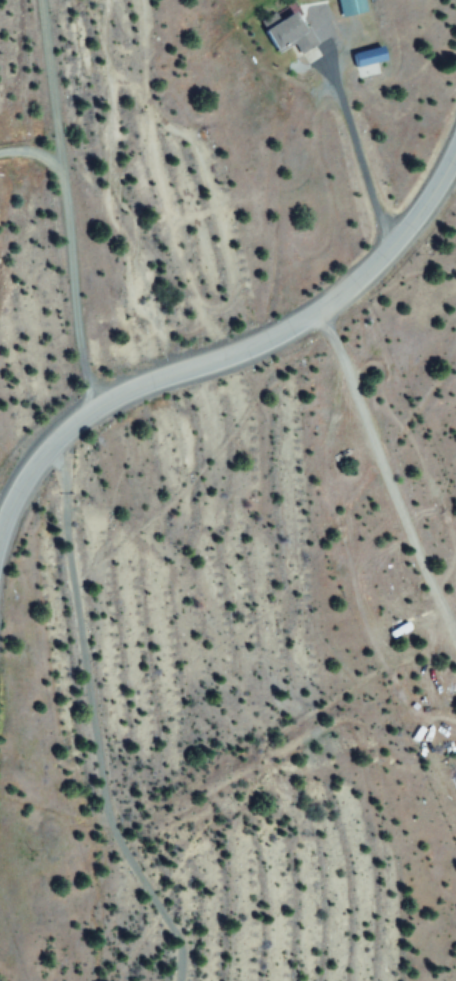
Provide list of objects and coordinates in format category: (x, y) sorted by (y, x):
building: (349, 7)
building: (288, 34)
building: (366, 57)
road: (358, 156)
road: (231, 355)
road: (389, 479)

